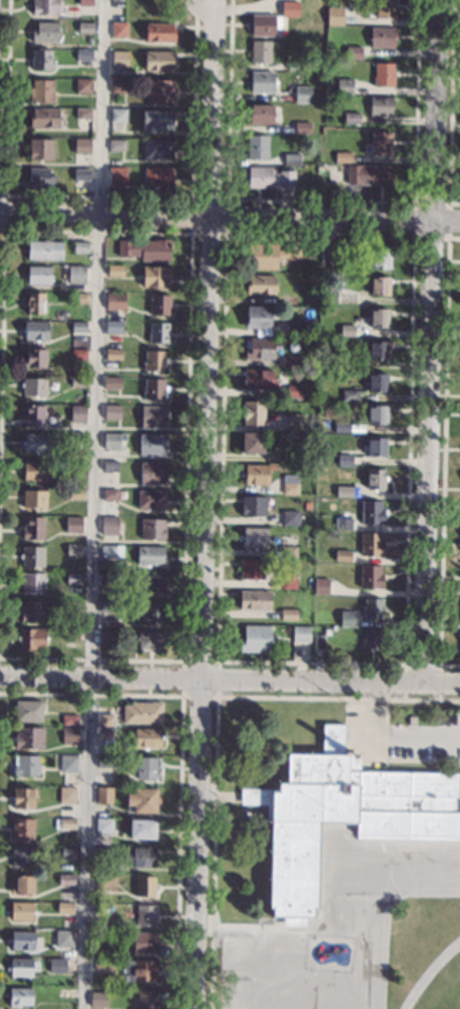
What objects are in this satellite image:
building: (85, 2)
building: (45, 7)
building: (290, 9)
building: (384, 9)
building: (334, 16)
building: (264, 25)
building: (85, 28)
building: (119, 30)
building: (45, 32)
building: (159, 32)
building: (380, 37)
building: (259, 52)
building: (352, 53)
building: (83, 54)
building: (119, 59)
building: (41, 60)
building: (159, 61)
building: (295, 65)
building: (383, 75)
building: (261, 82)
building: (118, 85)
building: (83, 86)
building: (344, 87)
building: (41, 91)
building: (160, 91)
building: (302, 94)
building: (380, 105)
building: (83, 113)
building: (261, 114)
building: (117, 115)
building: (44, 118)
building: (351, 118)
building: (157, 120)
building: (302, 128)
building: (379, 144)
building: (116, 145)
building: (81, 146)
building: (257, 147)
building: (40, 149)
building: (157, 149)
road: (5, 155)
building: (342, 158)
building: (291, 160)
building: (116, 173)
building: (81, 174)
building: (368, 175)
building: (157, 177)
building: (269, 177)
building: (39, 178)
road: (229, 227)
building: (80, 247)
building: (145, 249)
building: (44, 250)
building: (329, 254)
building: (269, 255)
building: (380, 259)
building: (64, 266)
building: (115, 271)
building: (76, 274)
building: (38, 275)
building: (156, 276)
building: (260, 285)
building: (380, 286)
building: (328, 294)
building: (80, 298)
building: (115, 301)
building: (35, 303)
building: (159, 305)
building: (257, 317)
building: (379, 318)
building: (79, 327)
building: (113, 327)
building: (292, 329)
building: (347, 330)
building: (35, 331)
building: (158, 333)
road: (425, 341)
building: (259, 349)
building: (378, 351)
building: (78, 354)
building: (113, 354)
building: (34, 357)
building: (154, 361)
building: (290, 362)
building: (346, 363)
building: (257, 378)
building: (78, 381)
building: (111, 383)
building: (377, 383)
building: (34, 387)
building: (154, 389)
building: (293, 391)
building: (350, 395)
building: (112, 412)
building: (77, 413)
building: (253, 414)
building: (33, 415)
building: (378, 415)
building: (153, 416)
building: (294, 422)
building: (342, 427)
building: (76, 438)
building: (113, 440)
building: (35, 443)
building: (251, 443)
building: (152, 445)
building: (376, 447)
building: (290, 457)
building: (345, 460)
building: (76, 465)
building: (111, 466)
building: (34, 471)
building: (152, 473)
building: (255, 475)
building: (376, 480)
building: (289, 485)
building: (344, 491)
building: (75, 493)
building: (109, 495)
building: (34, 498)
building: (151, 499)
road: (93, 504)
road: (206, 504)
building: (253, 506)
building: (372, 512)
building: (290, 518)
building: (343, 523)
building: (73, 525)
building: (109, 525)
building: (33, 528)
building: (152, 529)
building: (253, 537)
building: (371, 545)
building: (73, 550)
building: (112, 551)
building: (288, 552)
building: (150, 555)
building: (32, 556)
building: (342, 556)
building: (251, 568)
building: (370, 576)
building: (73, 579)
building: (108, 579)
building: (288, 581)
building: (32, 582)
building: (147, 584)
building: (321, 586)
building: (253, 600)
building: (72, 606)
building: (109, 606)
building: (372, 608)
building: (32, 611)
building: (153, 612)
building: (288, 614)
building: (347, 619)
building: (72, 634)
building: (301, 634)
building: (105, 635)
building: (32, 639)
building: (256, 639)
building: (150, 640)
building: (371, 640)
building: (319, 641)
road: (229, 681)
building: (27, 711)
building: (142, 713)
building: (104, 716)
building: (69, 720)
building: (106, 733)
building: (69, 735)
building: (282, 736)
building: (28, 738)
building: (147, 738)
road: (393, 741)
building: (104, 761)
building: (68, 764)
building: (26, 766)
building: (143, 767)
building: (66, 795)
building: (104, 795)
building: (23, 798)
building: (142, 800)
building: (342, 815)
building: (67, 823)
building: (103, 825)
building: (22, 828)
building: (141, 829)
building: (68, 853)
building: (101, 854)
building: (21, 857)
building: (139, 857)
building: (66, 879)
building: (110, 883)
building: (22, 885)
building: (145, 886)
building: (96, 897)
building: (64, 908)
building: (101, 908)
building: (21, 911)
building: (145, 915)
building: (63, 939)
building: (23, 940)
building: (144, 942)
building: (101, 964)
building: (56, 966)
building: (23, 967)
building: (139, 971)
building: (19, 997)
building: (98, 999)
building: (146, 999)

